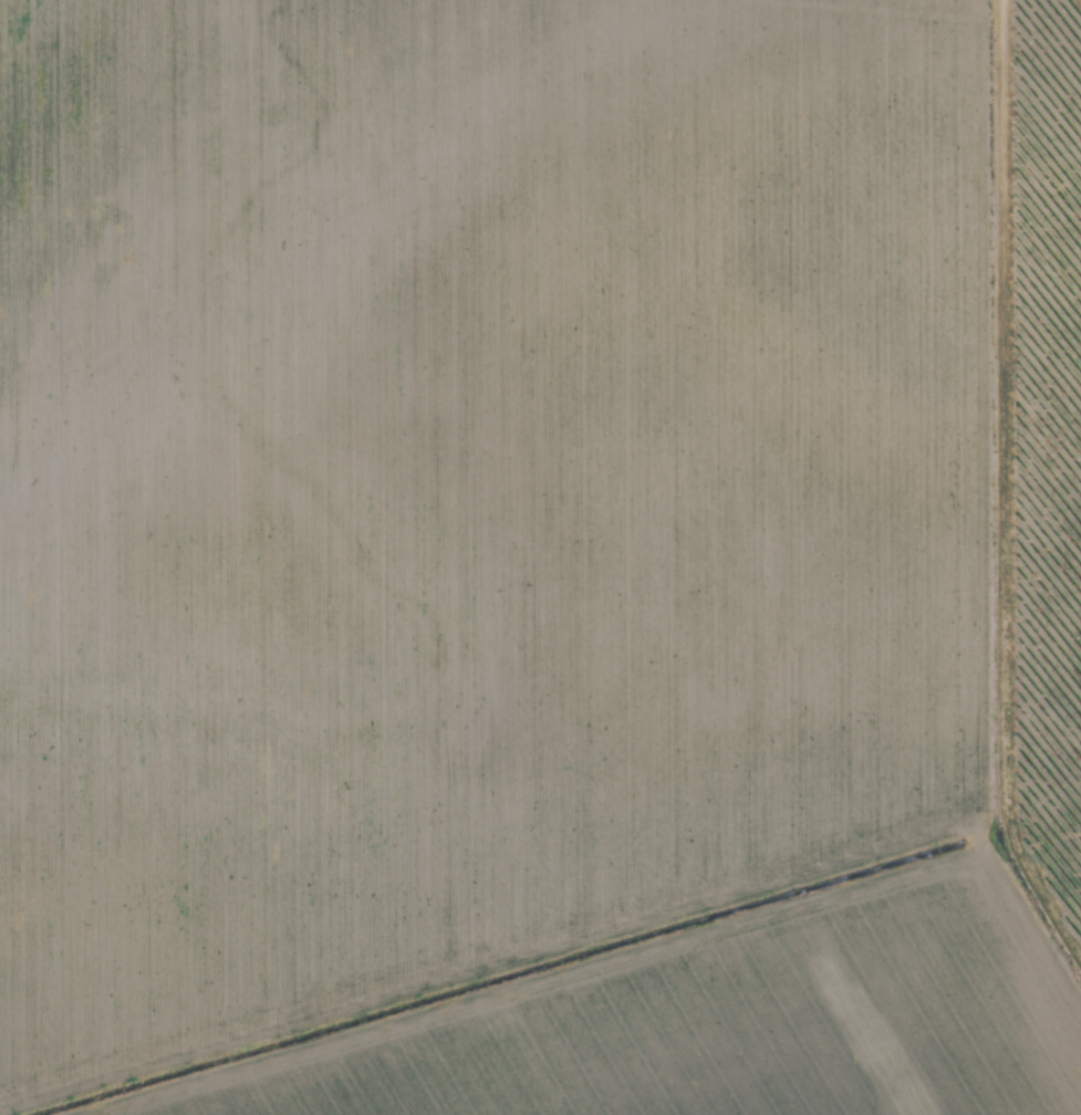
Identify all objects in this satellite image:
crop: (540, 557)

